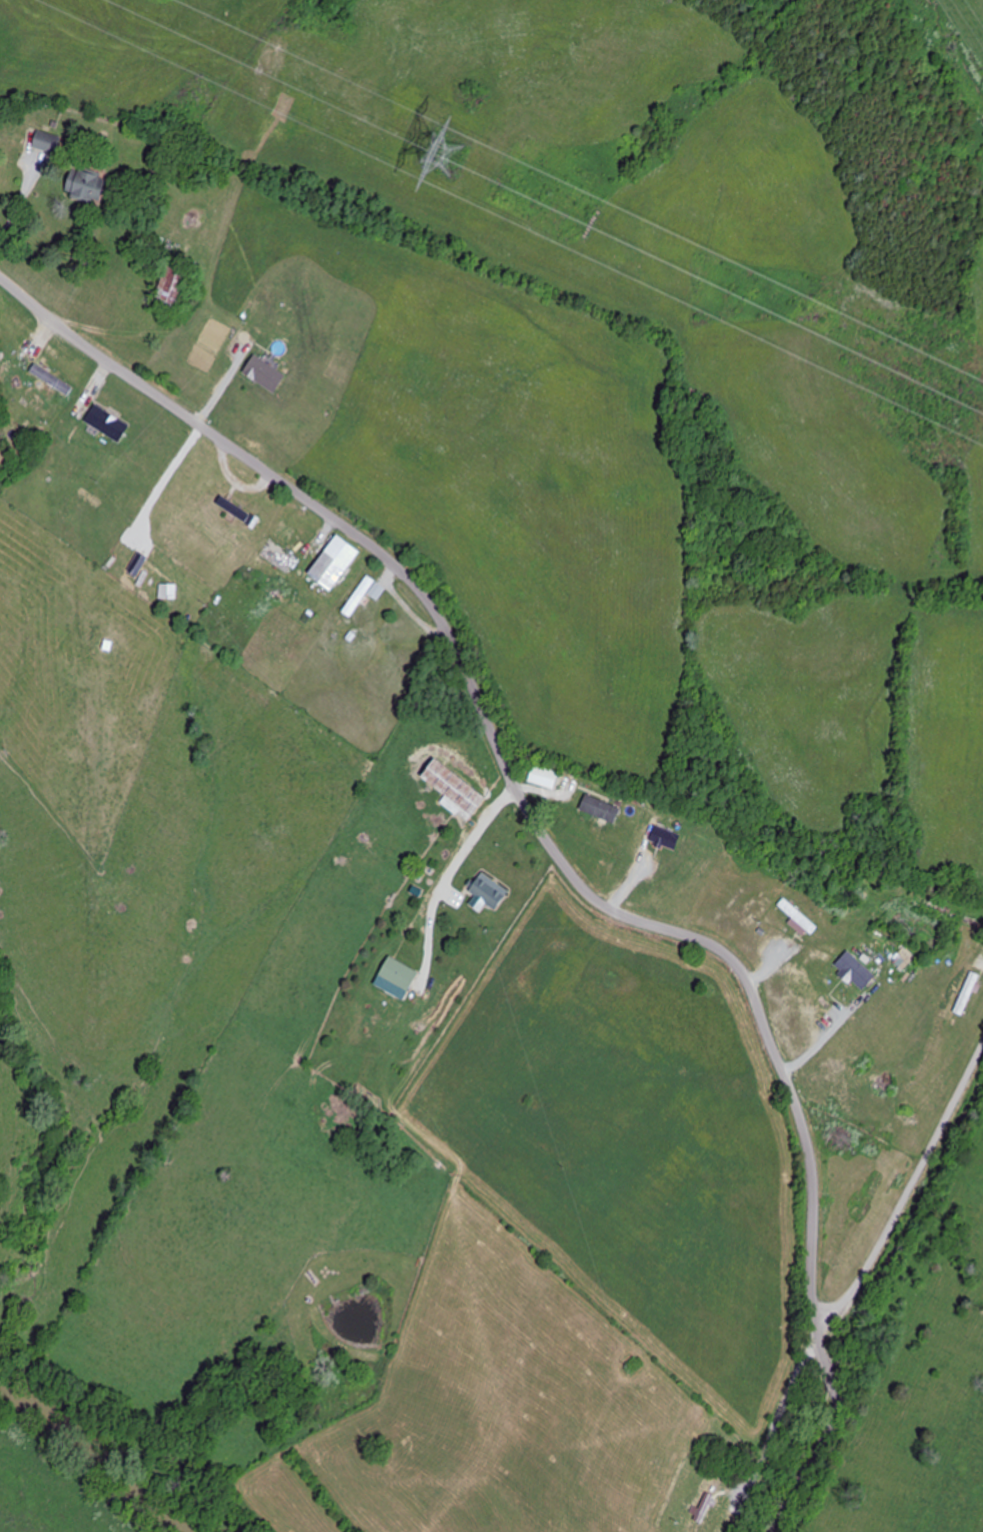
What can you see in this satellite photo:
building: (49, 143)
power tower: (459, 147)
building: (88, 186)
building: (175, 288)
building: (52, 380)
building: (107, 424)
building: (235, 509)
building: (336, 563)
building: (164, 592)
building: (364, 596)
building: (545, 777)
building: (457, 788)
building: (601, 810)
building: (667, 839)
road: (553, 854)
building: (490, 892)
building: (801, 920)
building: (857, 972)
building: (401, 974)
building: (968, 994)
road: (907, 1188)
river: (99, 1447)

